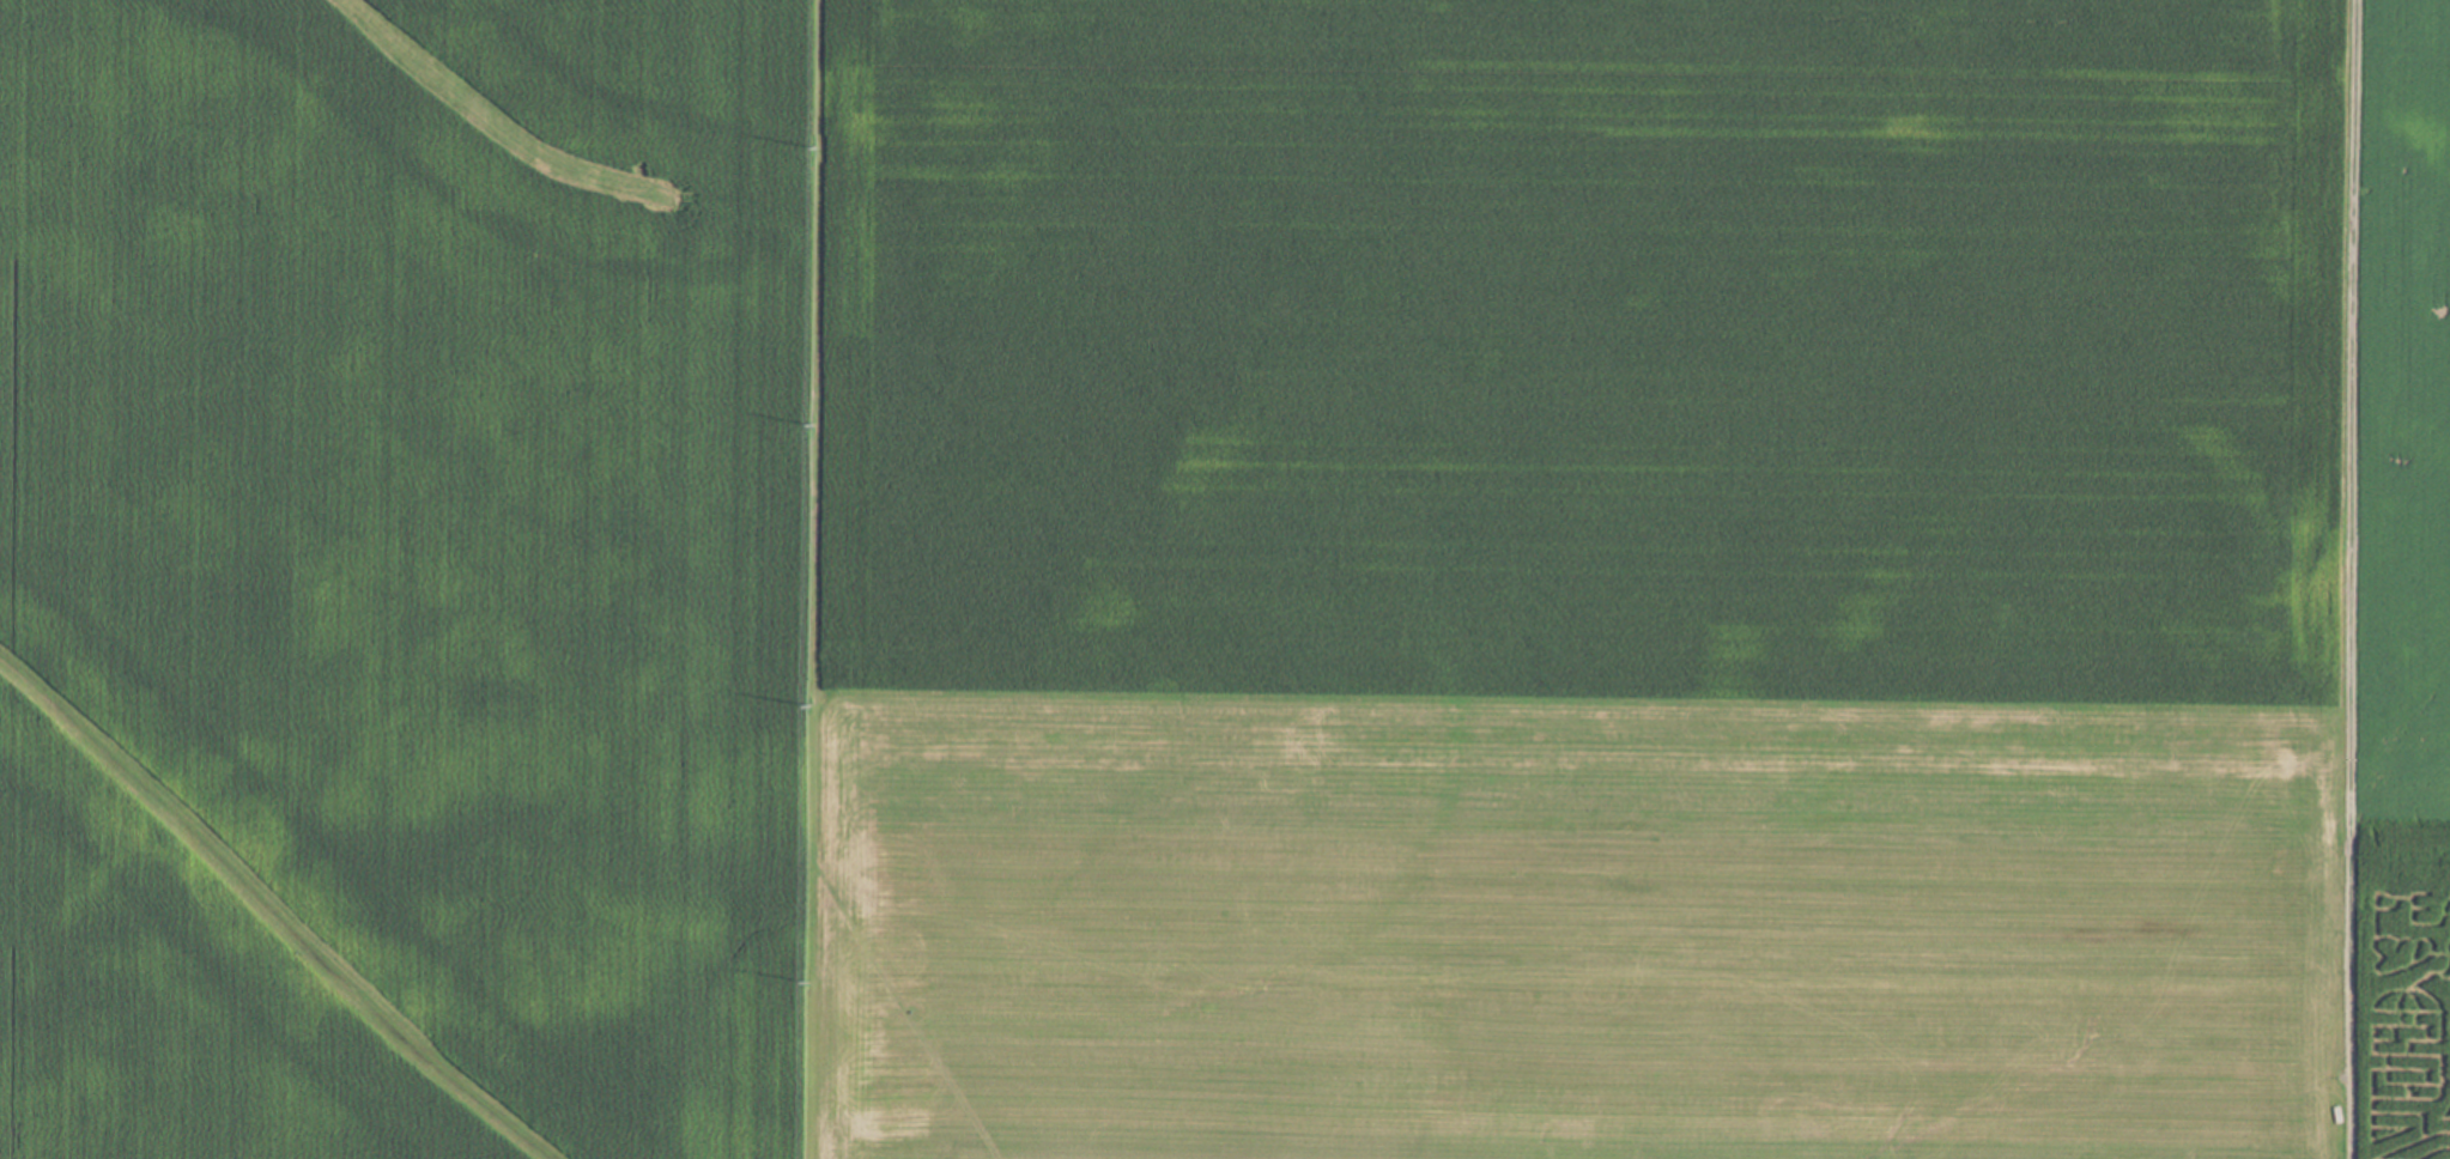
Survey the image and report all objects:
road: (2347, 1081)

